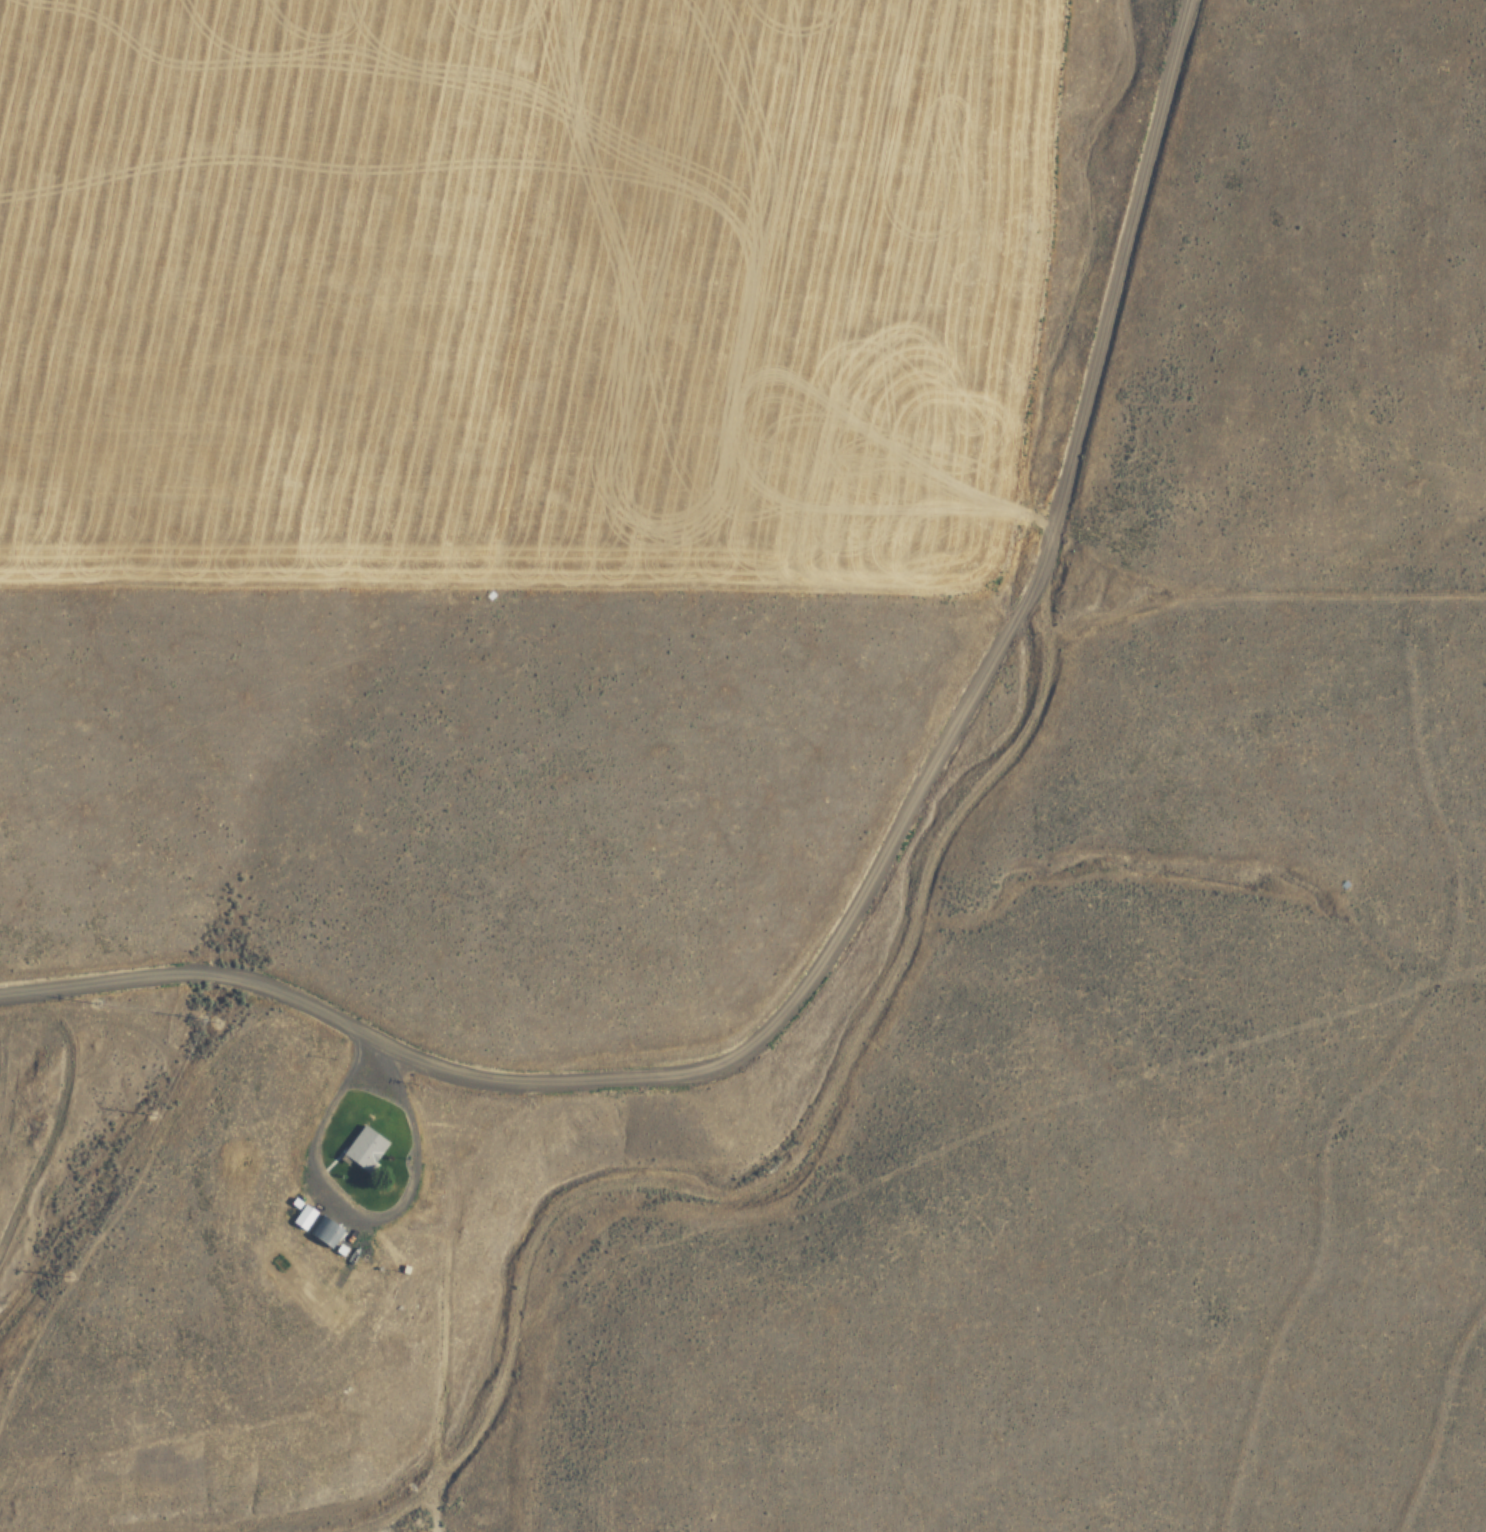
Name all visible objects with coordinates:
road: (859, 898)
building: (360, 1151)
building: (323, 1235)

